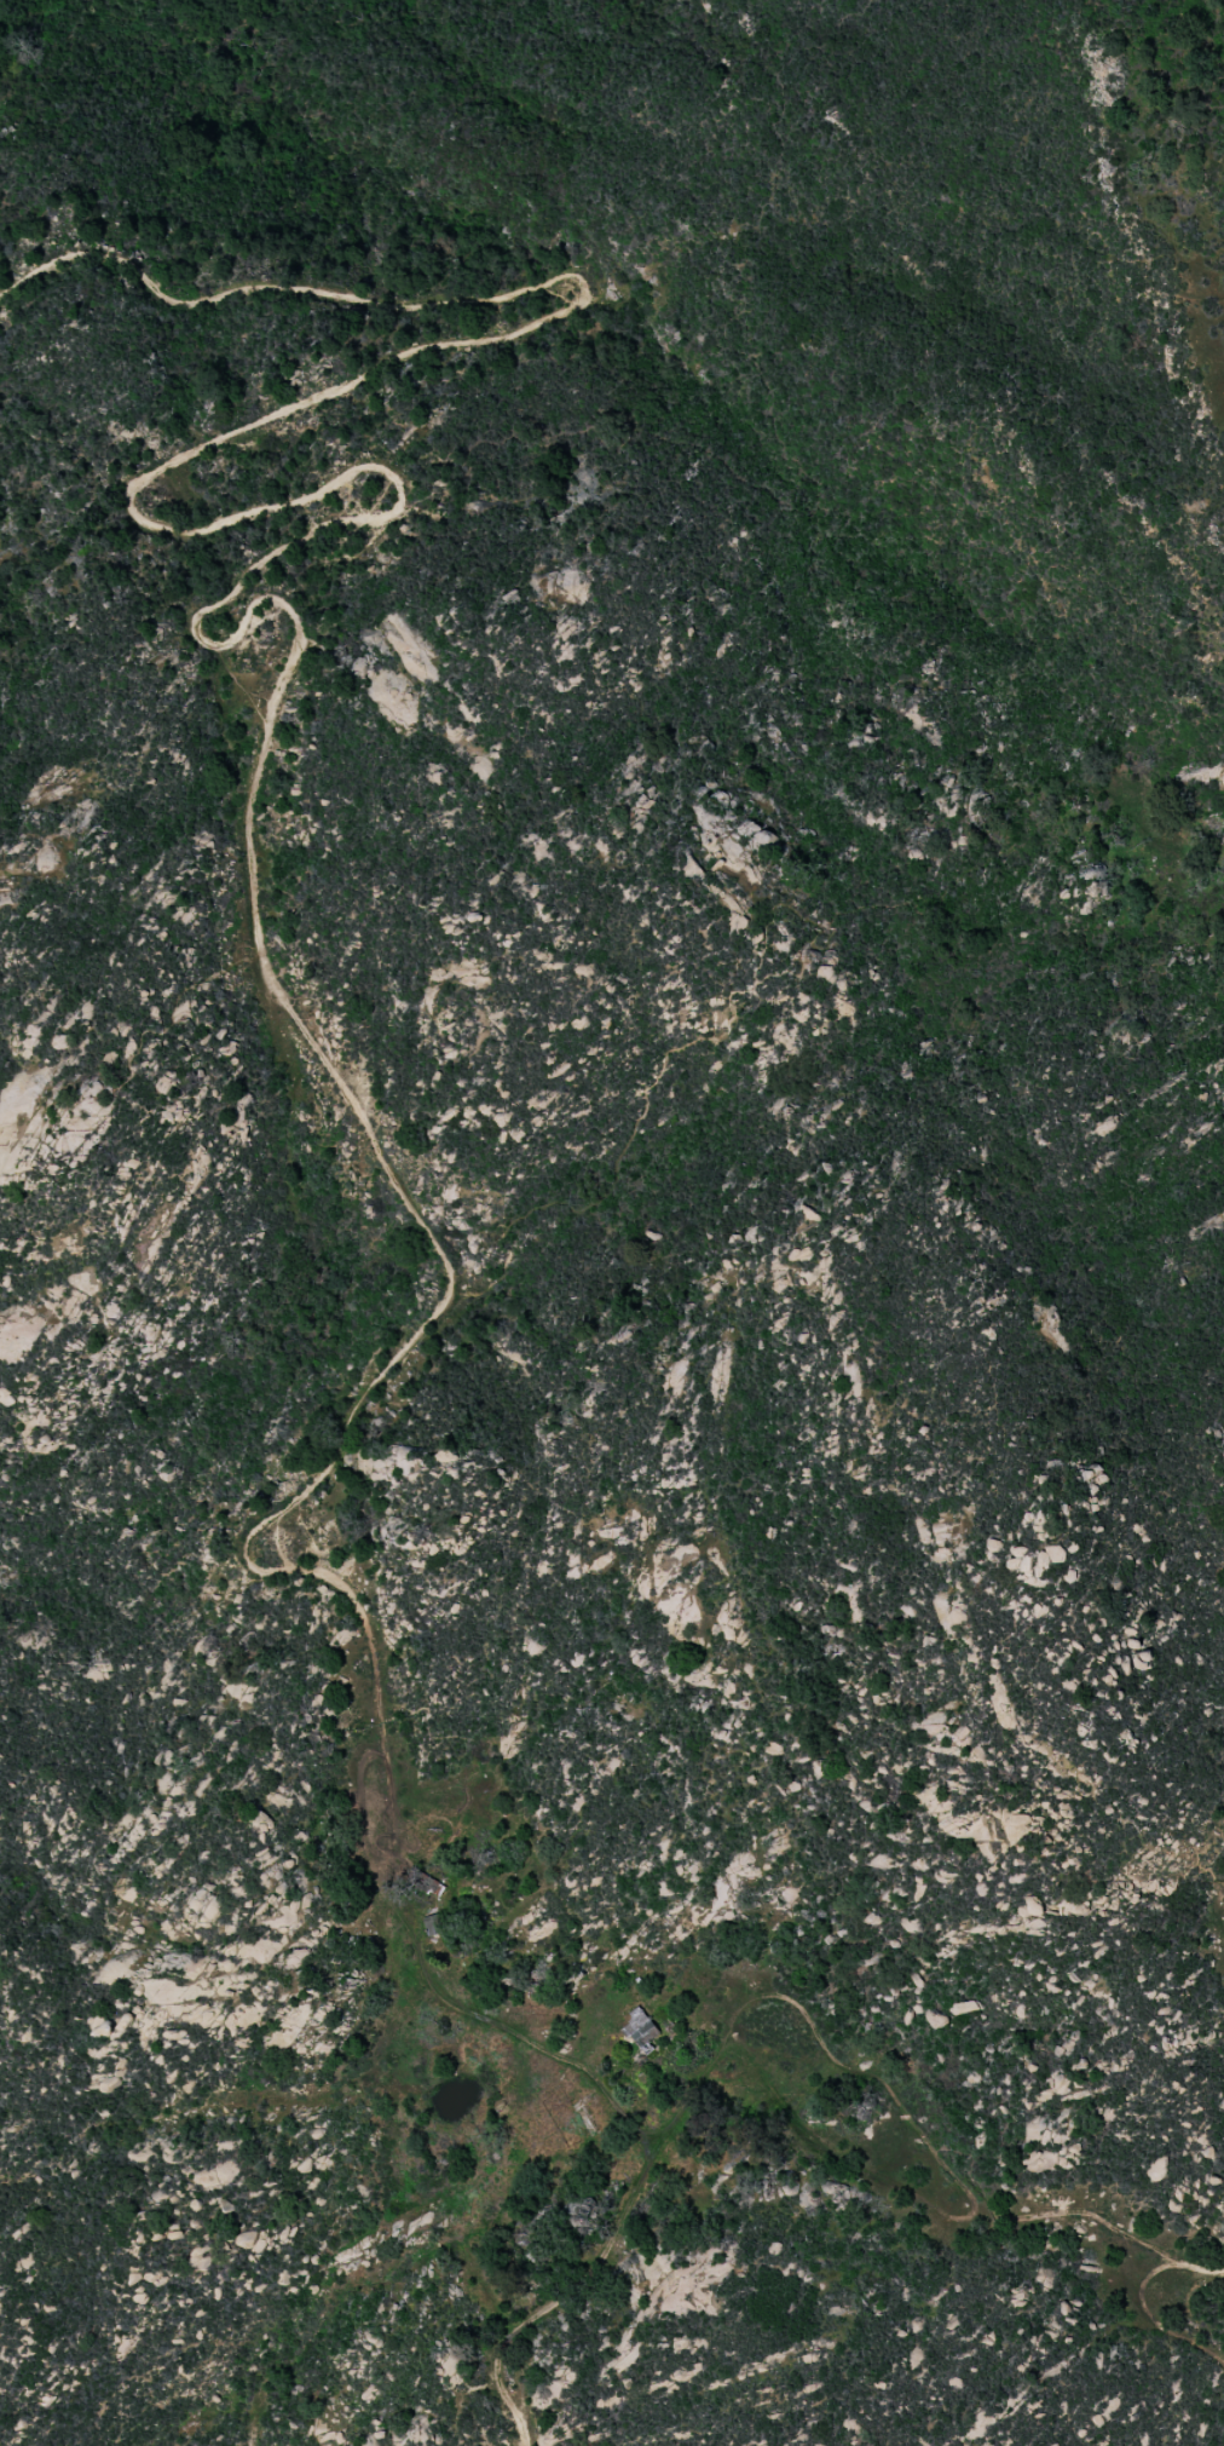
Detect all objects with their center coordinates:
road: (414, 295)
road: (259, 735)
road: (1168, 844)
road: (733, 1019)
park: (945, 1241)
building: (640, 2028)
road: (1105, 2222)
road: (1183, 2263)
road: (565, 2296)
road: (1168, 2333)

